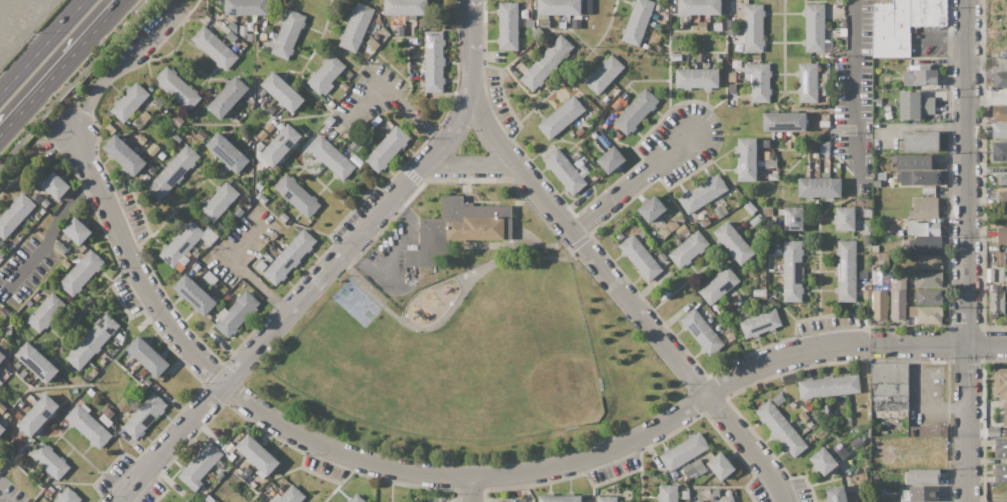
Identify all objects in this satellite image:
building: (536, 5)
building: (246, 7)
building: (405, 7)
building: (559, 7)
building: (587, 7)
building: (656, 7)
building: (696, 7)
building: (928, 13)
building: (378, 20)
building: (637, 21)
building: (269, 22)
building: (535, 23)
building: (729, 23)
building: (576, 24)
building: (651, 24)
building: (562, 25)
building: (843, 25)
building: (210, 26)
building: (508, 26)
building: (702, 26)
building: (356, 27)
building: (397, 27)
building: (717, 27)
building: (753, 27)
building: (694, 28)
building: (814, 28)
building: (226, 29)
building: (891, 29)
building: (243, 30)
building: (249, 30)
building: (732, 32)
building: (843, 32)
building: (537, 33)
building: (288, 34)
building: (262, 36)
building: (231, 37)
road: (939, 37)
building: (549, 38)
building: (372, 43)
building: (411, 45)
road: (42, 46)
building: (828, 46)
building: (214, 48)
building: (531, 53)
building: (675, 57)
building: (700, 57)
building: (433, 61)
building: (547, 63)
road: (118, 66)
building: (924, 66)
road: (61, 68)
building: (325, 74)
building: (603, 74)
building: (732, 77)
building: (825, 77)
building: (920, 77)
building: (696, 78)
building: (899, 78)
building: (999, 79)
building: (758, 81)
building: (807, 83)
road: (74, 84)
building: (819, 85)
road: (854, 85)
building: (344, 86)
building: (825, 86)
building: (732, 88)
building: (177, 89)
building: (610, 90)
building: (282, 91)
building: (825, 92)
building: (624, 96)
building: (228, 98)
building: (246, 98)
building: (260, 99)
road: (398, 99)
building: (586, 101)
building: (878, 101)
building: (129, 102)
building: (618, 104)
building: (331, 105)
building: (914, 105)
building: (271, 109)
building: (635, 112)
building: (999, 114)
building: (145, 116)
building: (561, 117)
building: (203, 119)
building: (328, 120)
building: (177, 121)
building: (139, 122)
building: (273, 122)
building: (784, 122)
building: (824, 124)
building: (271, 127)
building: (110, 128)
road: (74, 130)
building: (999, 130)
building: (580, 132)
building: (571, 134)
building: (201, 135)
building: (594, 135)
building: (175, 139)
building: (142, 140)
building: (603, 140)
building: (921, 141)
building: (234, 142)
building: (765, 143)
building: (280, 145)
building: (355, 145)
building: (824, 147)
building: (387, 148)
building: (153, 150)
building: (621, 151)
building: (999, 151)
building: (226, 152)
building: (260, 153)
building: (124, 155)
building: (815, 155)
building: (162, 156)
building: (331, 157)
building: (771, 157)
building: (574, 158)
building: (583, 159)
building: (746, 159)
building: (610, 160)
building: (356, 161)
building: (914, 162)
building: (579, 163)
building: (772, 163)
road: (470, 165)
building: (838, 165)
building: (250, 170)
building: (564, 171)
building: (149, 173)
building: (172, 173)
building: (773, 177)
building: (898, 178)
building: (906, 178)
building: (926, 178)
building: (1002, 179)
road: (633, 182)
building: (876, 183)
building: (260, 185)
building: (55, 186)
building: (819, 187)
building: (929, 190)
building: (702, 193)
building: (297, 195)
building: (261, 198)
building: (38, 199)
building: (1002, 199)
building: (219, 201)
building: (45, 203)
building: (715, 204)
building: (750, 208)
building: (925, 208)
building: (723, 209)
building: (650, 210)
building: (42, 211)
building: (718, 212)
building: (780, 212)
building: (867, 212)
building: (15, 214)
building: (701, 214)
building: (231, 217)
building: (283, 217)
building: (793, 218)
building: (845, 218)
building: (704, 221)
building: (858, 223)
building: (671, 226)
building: (867, 228)
building: (923, 229)
building: (290, 230)
building: (682, 230)
road: (52, 231)
building: (456, 231)
building: (77, 232)
building: (664, 232)
building: (625, 233)
building: (641, 233)
building: (208, 236)
building: (274, 236)
building: (1002, 236)
building: (867, 241)
building: (677, 242)
building: (732, 242)
building: (650, 243)
building: (925, 243)
building: (181, 245)
building: (754, 245)
building: (60, 247)
building: (82, 249)
building: (688, 249)
building: (778, 251)
road: (967, 251)
building: (1, 254)
building: (195, 254)
building: (258, 256)
building: (662, 256)
building: (289, 257)
building: (640, 258)
building: (999, 258)
building: (1006, 258)
building: (266, 259)
building: (929, 262)
building: (66, 264)
building: (261, 266)
road: (330, 266)
building: (196, 267)
road: (240, 269)
building: (792, 271)
building: (846, 271)
building: (81, 273)
building: (912, 273)
building: (210, 277)
building: (869, 280)
building: (928, 280)
building: (718, 285)
building: (884, 287)
building: (759, 292)
building: (867, 294)
building: (194, 295)
building: (37, 296)
building: (227, 297)
building: (928, 297)
building: (736, 299)
road: (628, 300)
building: (898, 300)
building: (996, 301)
building: (30, 302)
building: (739, 302)
building: (728, 305)
building: (879, 305)
building: (4, 312)
building: (45, 312)
building: (236, 314)
building: (926, 314)
building: (710, 319)
building: (760, 323)
building: (8, 332)
building: (701, 332)
building: (730, 336)
building: (119, 338)
building: (92, 341)
park: (466, 342)
road: (919, 344)
road: (987, 344)
building: (115, 348)
building: (2, 356)
building: (147, 356)
building: (102, 361)
building: (37, 362)
building: (17, 365)
building: (92, 372)
building: (23, 373)
building: (142, 373)
building: (28, 376)
building: (146, 382)
building: (1000, 384)
building: (828, 386)
building: (75, 390)
building: (90, 392)
building: (778, 400)
building: (889, 400)
building: (28, 401)
building: (0, 403)
building: (792, 404)
building: (23, 406)
building: (124, 407)
building: (2, 408)
building: (827, 409)
building: (108, 413)
building: (38, 415)
building: (144, 416)
building: (803, 416)
building: (1005, 417)
building: (105, 420)
building: (848, 422)
building: (810, 424)
building: (1, 425)
building: (88, 426)
building: (781, 428)
building: (992, 431)
building: (1006, 431)
building: (927, 432)
building: (830, 436)
building: (17, 440)
building: (1000, 447)
building: (684, 451)
building: (881, 451)
building: (232, 457)
building: (257, 457)
building: (916, 458)
building: (50, 459)
building: (823, 461)
building: (721, 465)
building: (199, 466)
building: (693, 467)
building: (462, 468)
building: (851, 470)
building: (238, 471)
road: (404, 471)
building: (701, 471)
building: (246, 472)
building: (693, 473)
building: (208, 474)
building: (1000, 474)
building: (45, 476)
building: (219, 476)
building: (922, 476)
building: (40, 480)
building: (252, 484)
building: (52, 488)
road: (473, 491)
building: (706, 491)
building: (48, 492)
building: (667, 493)
building: (715, 493)
building: (836, 493)
building: (906, 494)
building: (924, 494)
building: (685, 495)
building: (68, 496)
building: (289, 496)
building: (862, 496)
building: (560, 498)
building: (209, 499)
building: (356, 499)
building: (523, 499)
building: (607, 499)
building: (725, 500)
building: (187, 501)
building: (254, 501)
building: (699, 501)

